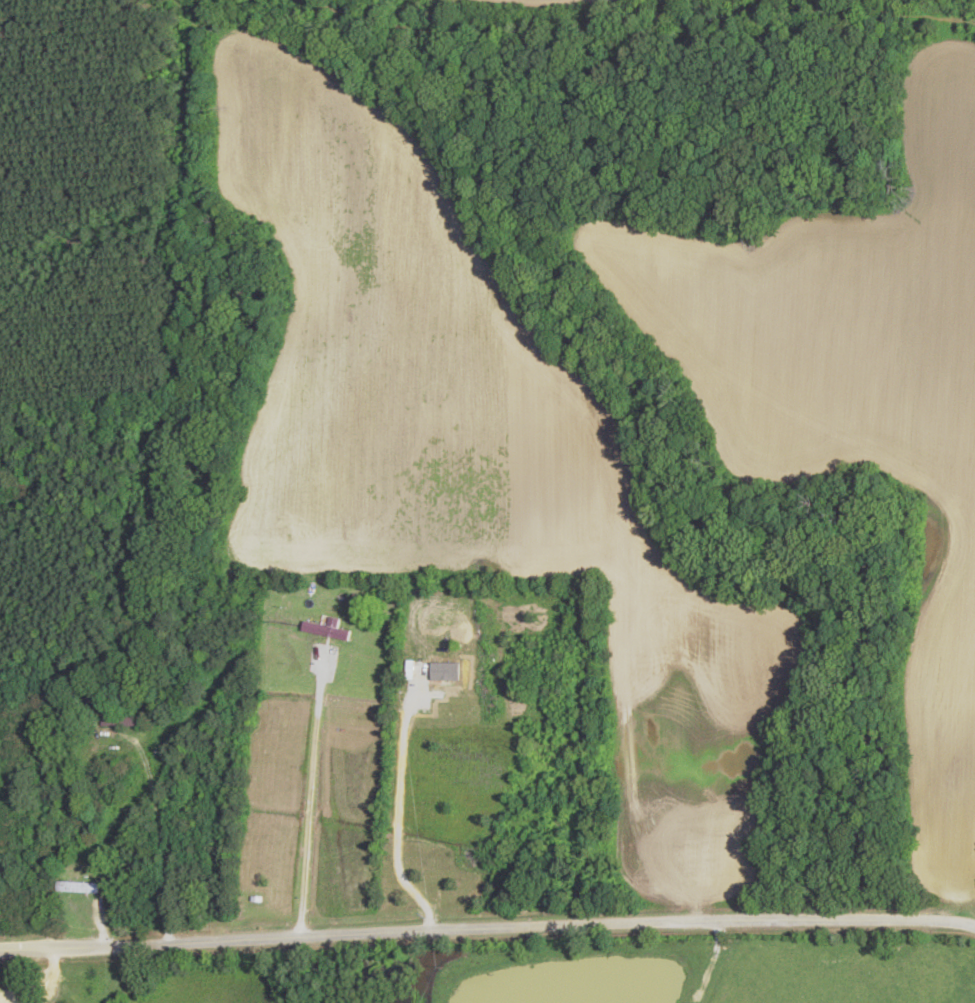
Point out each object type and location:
building: (123, 722)
building: (76, 888)
road: (487, 928)

